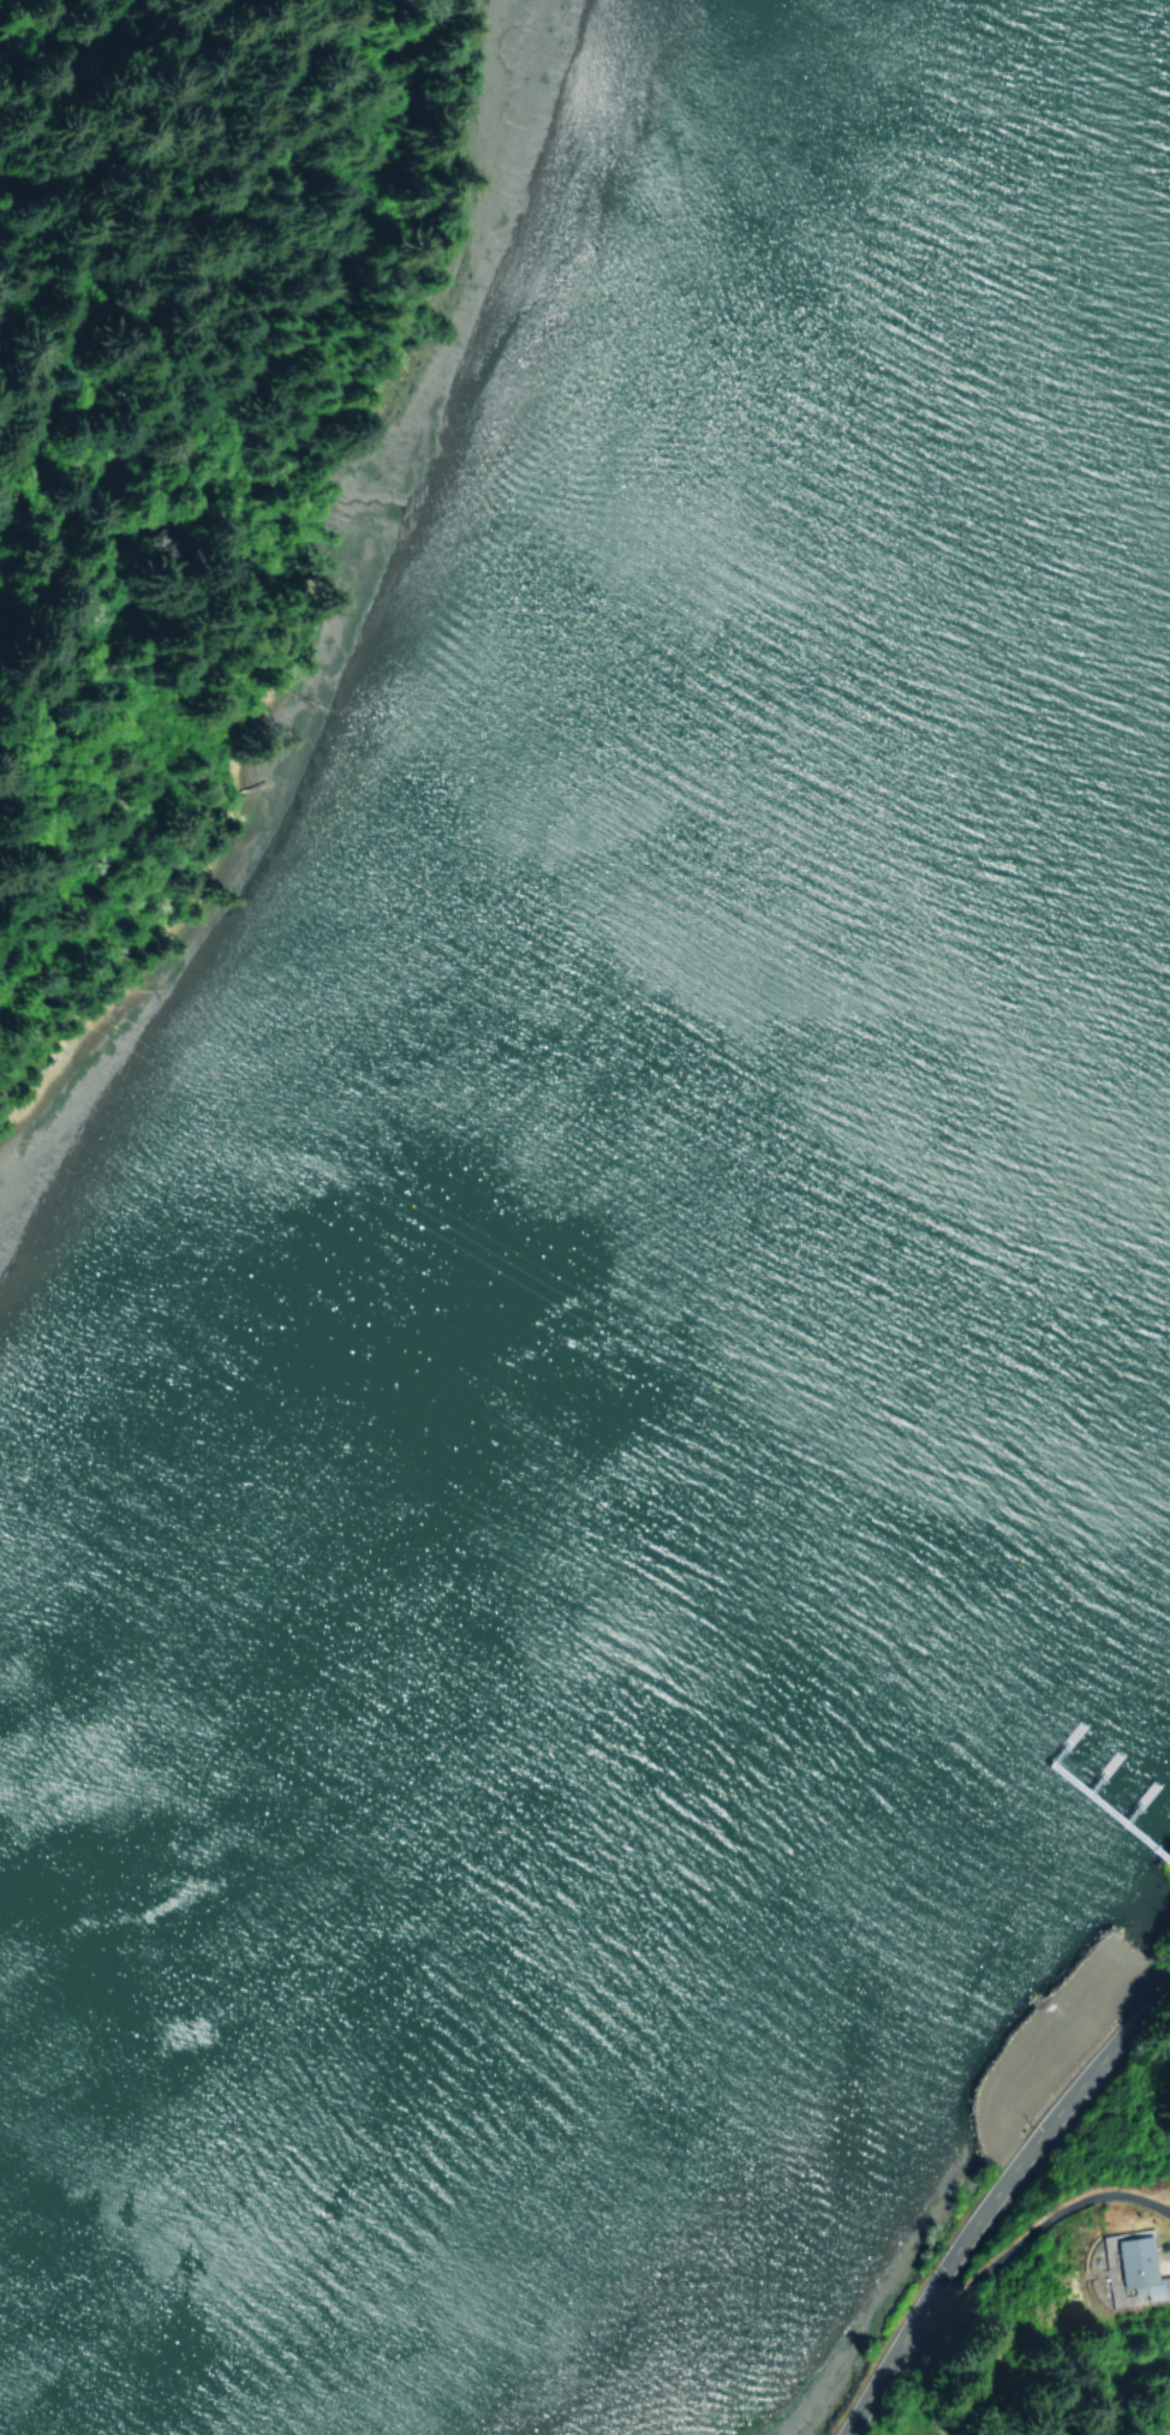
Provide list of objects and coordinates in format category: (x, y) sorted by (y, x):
river: (703, 1454)
road: (989, 2198)

